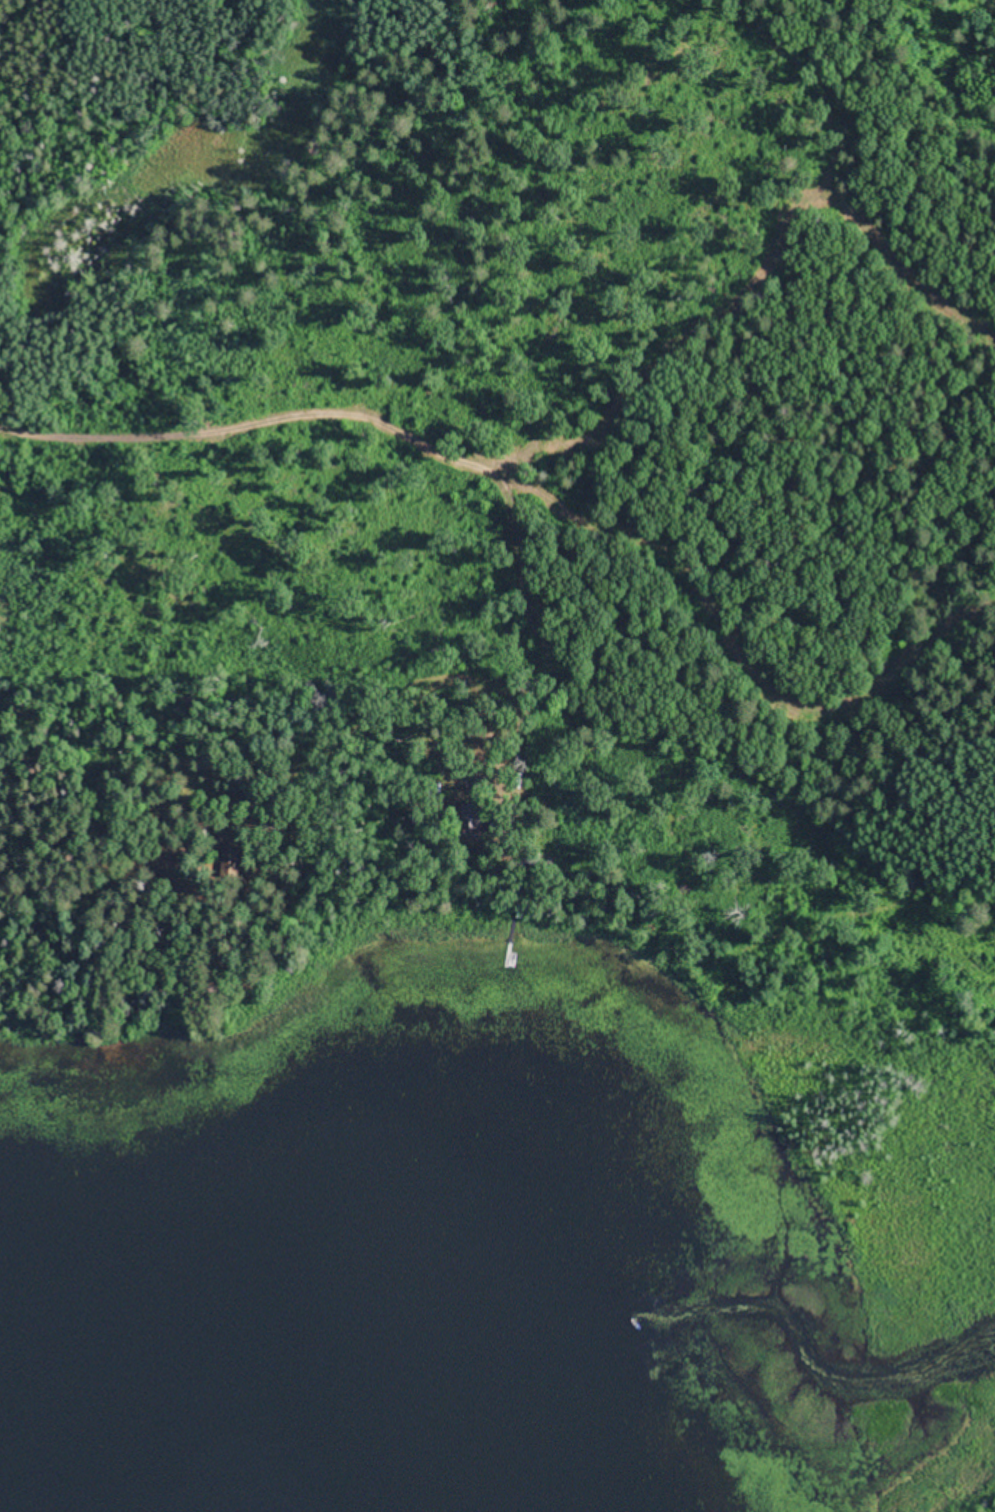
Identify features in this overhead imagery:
road: (13, 19)
building: (482, 814)
building: (235, 857)
road: (72, 869)

